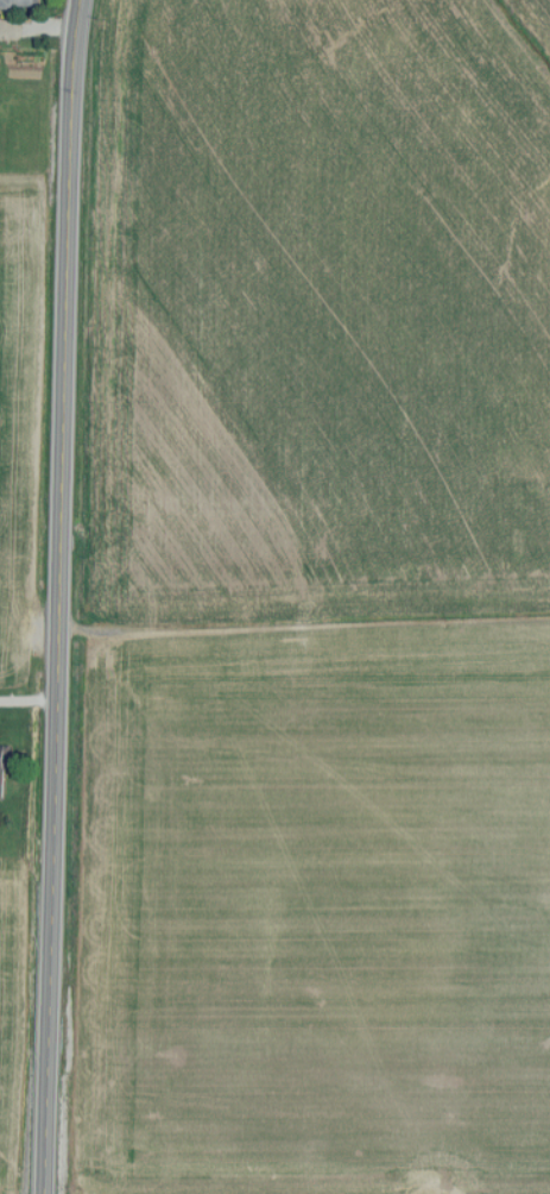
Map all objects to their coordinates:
building: (20, 4)
road: (58, 596)
building: (4, 769)

